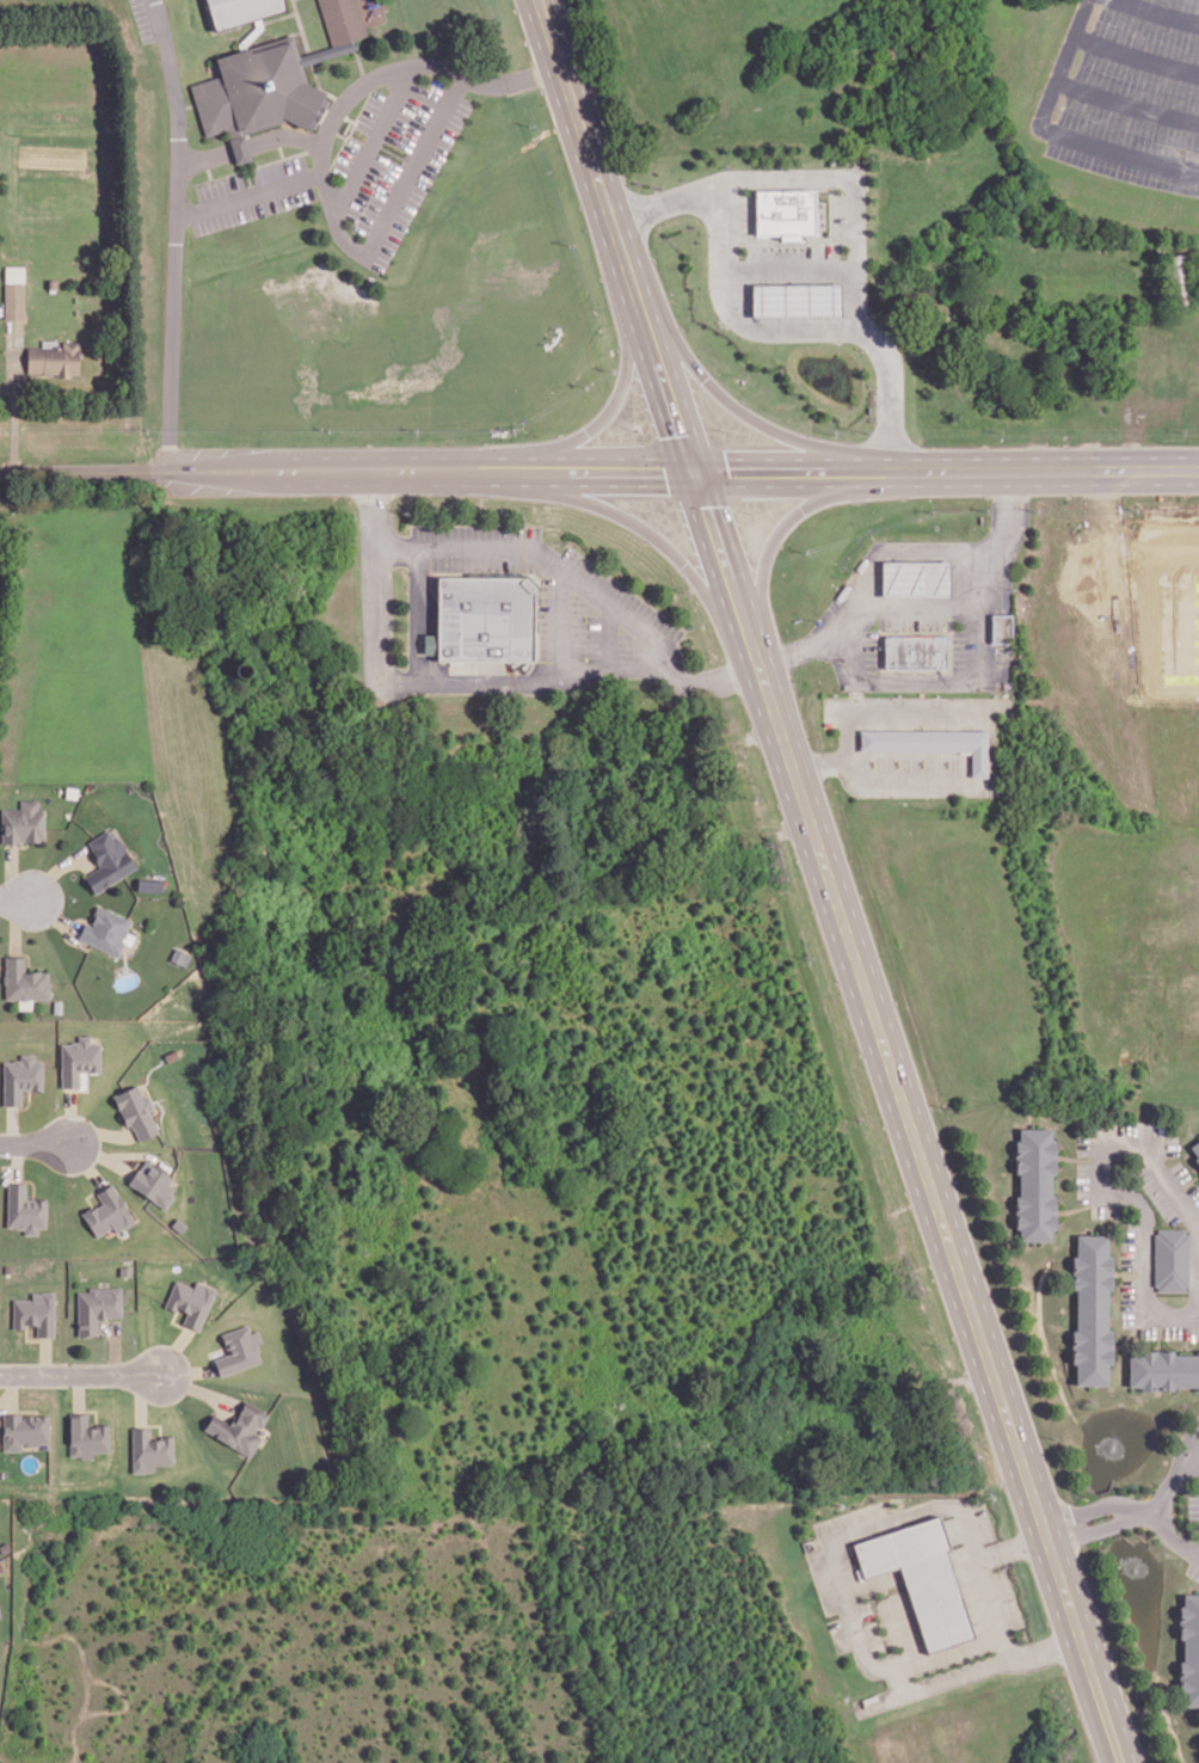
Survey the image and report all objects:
building: (239, 10)
road: (1161, 11)
building: (192, 14)
building: (342, 19)
road: (1135, 55)
road: (364, 82)
building: (260, 86)
parking lot: (1127, 92)
street lamp: (190, 123)
road: (1054, 133)
road: (373, 141)
road: (250, 142)
road: (588, 146)
road: (278, 147)
parking lot: (395, 161)
street lamp: (443, 162)
street lamp: (310, 164)
road: (414, 165)
street lamp: (846, 165)
road: (250, 166)
street lamp: (727, 166)
road: (208, 167)
road: (247, 172)
road: (801, 177)
street lamp: (687, 178)
street lamp: (739, 190)
parking lot: (252, 193)
road: (248, 195)
street lamp: (197, 199)
road: (830, 207)
building: (783, 210)
street lamp: (276, 215)
parking lot: (838, 215)
parking lot: (744, 216)
street lamp: (659, 221)
street lamp: (411, 223)
street lamp: (233, 227)
street lamp: (868, 232)
street lamp: (705, 233)
road: (174, 234)
road: (787, 240)
parking lot: (793, 251)
street lamp: (843, 256)
street lamp: (742, 257)
road: (787, 270)
building: (13, 271)
building: (1176, 278)
building: (53, 282)
building: (794, 297)
gas station: (794, 297)
building: (13, 299)
road: (639, 301)
road: (805, 327)
street lamp: (861, 349)
building: (53, 357)
street lamp: (873, 385)
road: (668, 389)
road: (14, 398)
road: (734, 407)
road: (609, 410)
road: (91, 471)
road: (343, 471)
road: (512, 471)
road: (608, 471)
road: (770, 472)
road: (860, 472)
road: (1045, 472)
road: (883, 473)
road: (648, 532)
street lamp: (1023, 536)
road: (773, 537)
street lamp: (567, 540)
road: (721, 552)
street lamp: (844, 576)
building: (914, 577)
gas station: (914, 577)
road: (584, 583)
road: (376, 585)
street lamp: (1013, 588)
street lamp: (684, 591)
road: (894, 606)
road: (417, 614)
building: (481, 616)
street lamp: (814, 619)
road: (561, 621)
parking lot: (914, 621)
building: (1000, 628)
road: (609, 633)
road: (751, 643)
parking lot: (871, 649)
parking lot: (958, 650)
road: (789, 651)
building: (914, 651)
road: (978, 651)
road: (756, 656)
street lamp: (585, 657)
street lamp: (816, 658)
road: (758, 664)
road: (527, 680)
street lamp: (846, 690)
street lamp: (990, 692)
road: (855, 693)
building: (930, 741)
road: (992, 758)
building: (21, 822)
building: (106, 859)
road: (55, 868)
road: (11, 871)
building: (148, 883)
road: (17, 898)
road: (51, 914)
road: (14, 926)
building: (105, 928)
road: (27, 954)
building: (178, 954)
building: (23, 979)
building: (56, 1005)
building: (78, 1061)
building: (20, 1079)
building: (136, 1112)
parking lot: (1123, 1126)
road: (33, 1143)
parking lot: (1083, 1144)
parking lot: (1170, 1144)
building: (1195, 1149)
road: (922, 1155)
road: (1077, 1157)
parking lot: (1179, 1171)
street lamp: (70, 1174)
parking lot: (1082, 1181)
building: (153, 1182)
building: (1033, 1182)
parking lot: (1156, 1193)
road: (1139, 1200)
parking lot: (1105, 1209)
building: (24, 1210)
building: (107, 1212)
road: (1198, 1227)
parking lot: (1129, 1241)
building: (1170, 1259)
building: (123, 1270)
parking lot: (1127, 1300)
building: (190, 1302)
building: (94, 1306)
building: (1090, 1308)
building: (35, 1313)
parking lot: (1145, 1331)
parking lot: (1181, 1331)
road: (113, 1349)
building: (239, 1350)
building: (1163, 1369)
road: (80, 1374)
road: (193, 1388)
building: (238, 1426)
building: (24, 1431)
building: (86, 1437)
building: (149, 1451)
road: (1194, 1464)
road: (1169, 1483)
parking lot: (1193, 1505)
road: (1089, 1509)
street lamp: (1089, 1521)
road: (1094, 1529)
road: (1166, 1538)
flagpole: (994, 1568)
parking lot: (1193, 1569)
building: (921, 1577)
road: (846, 1590)
road: (989, 1597)
building: (0, 1617)
building: (1188, 1650)
road: (1102, 1703)

